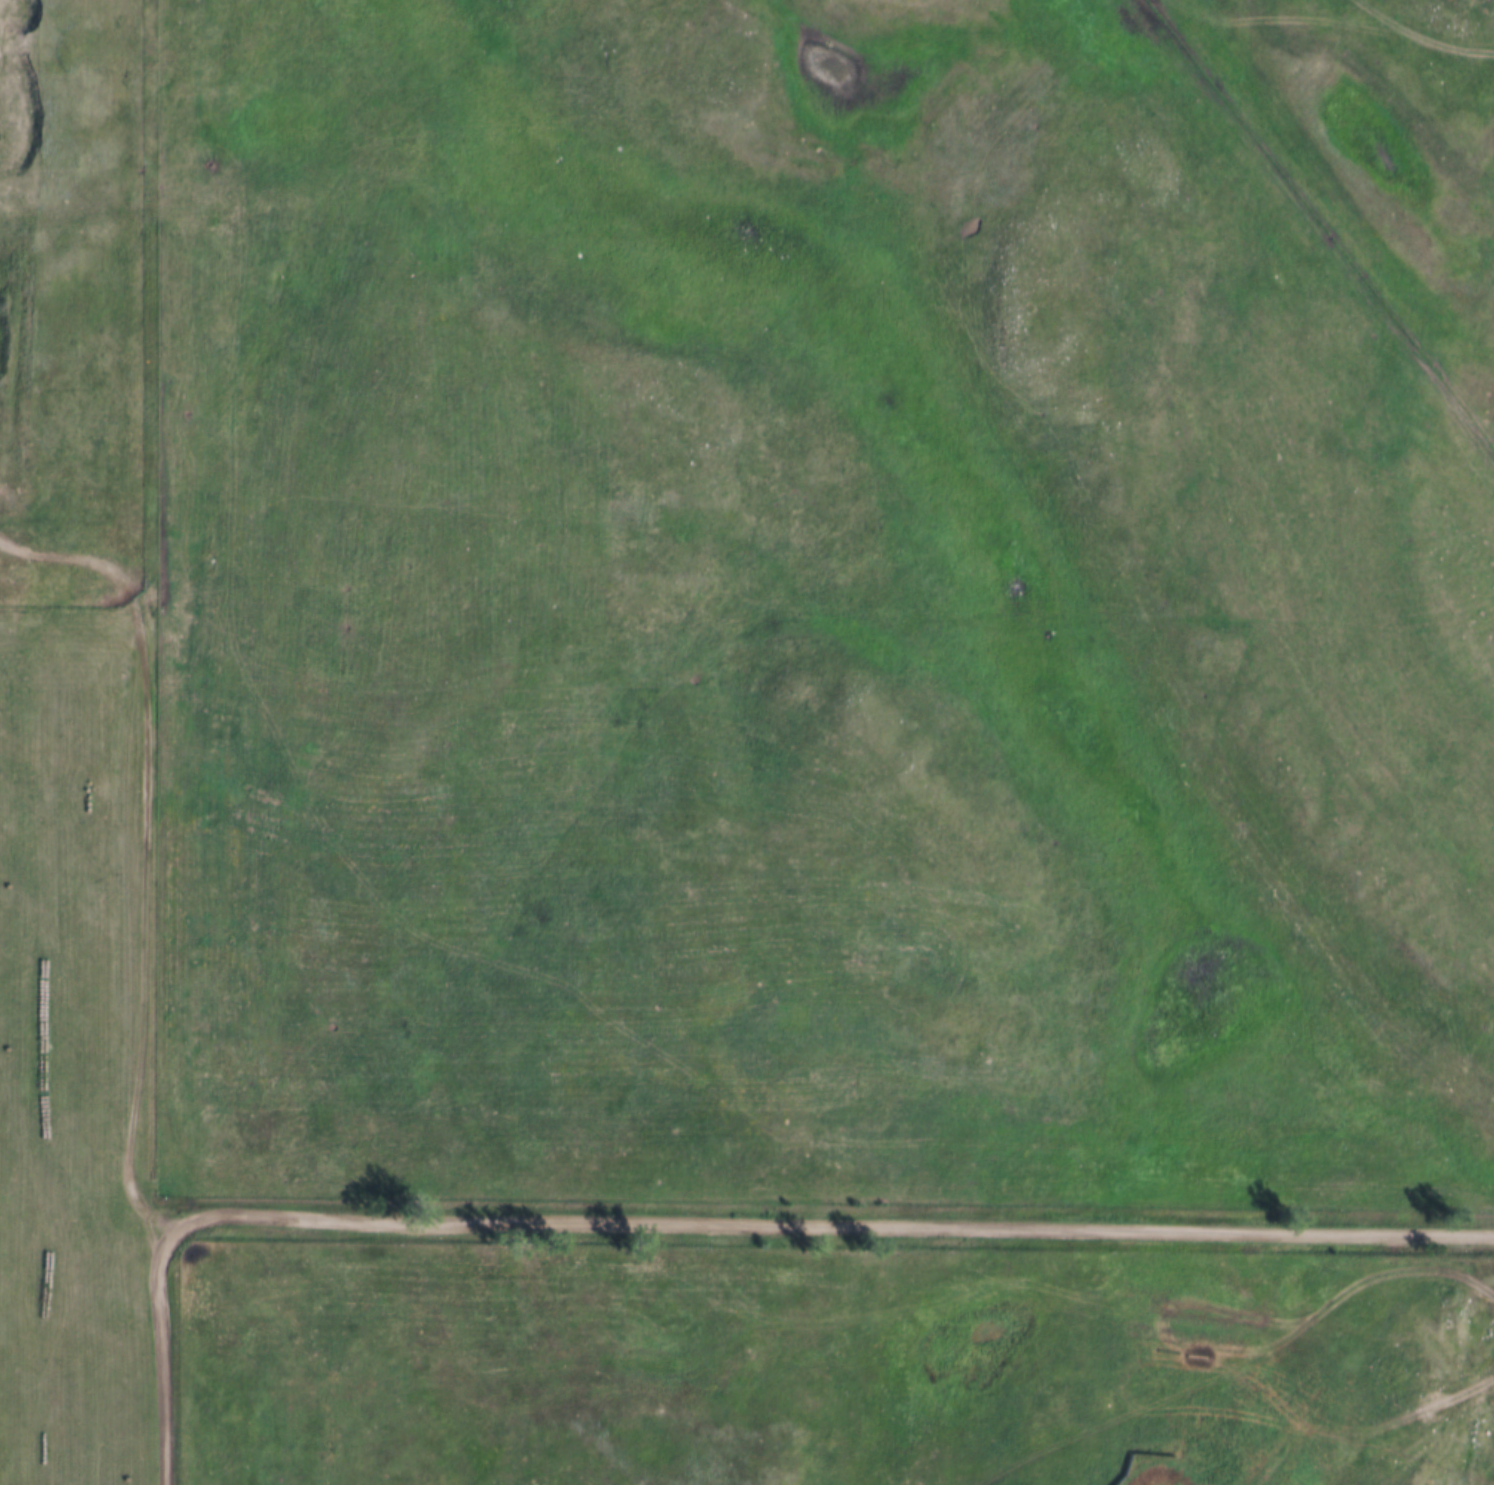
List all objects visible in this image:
road: (1424, 32)
quarry: (14, 145)
road: (122, 834)
road: (823, 1223)
road: (158, 1351)

